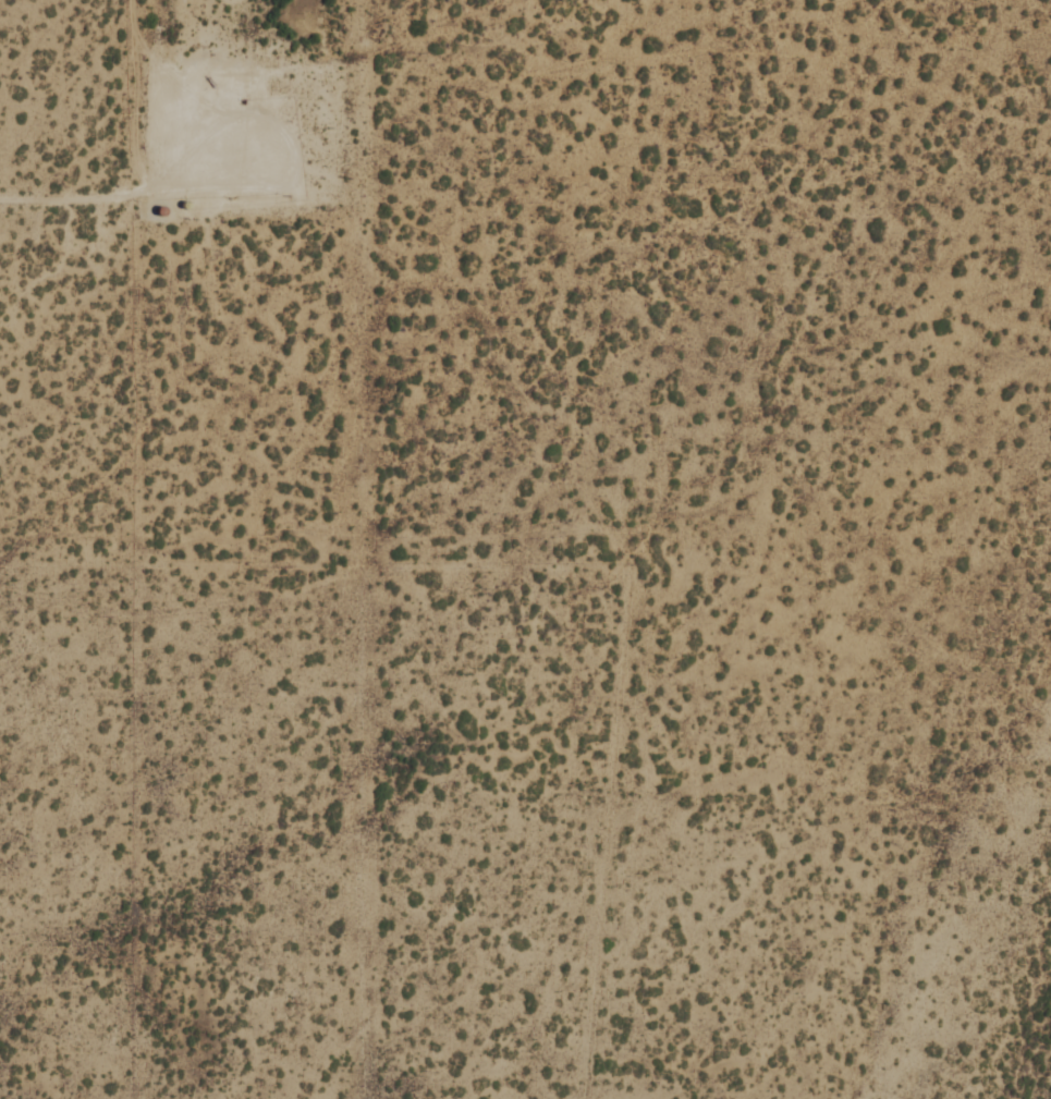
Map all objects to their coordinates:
road: (136, 96)
road: (291, 142)
road: (71, 198)

